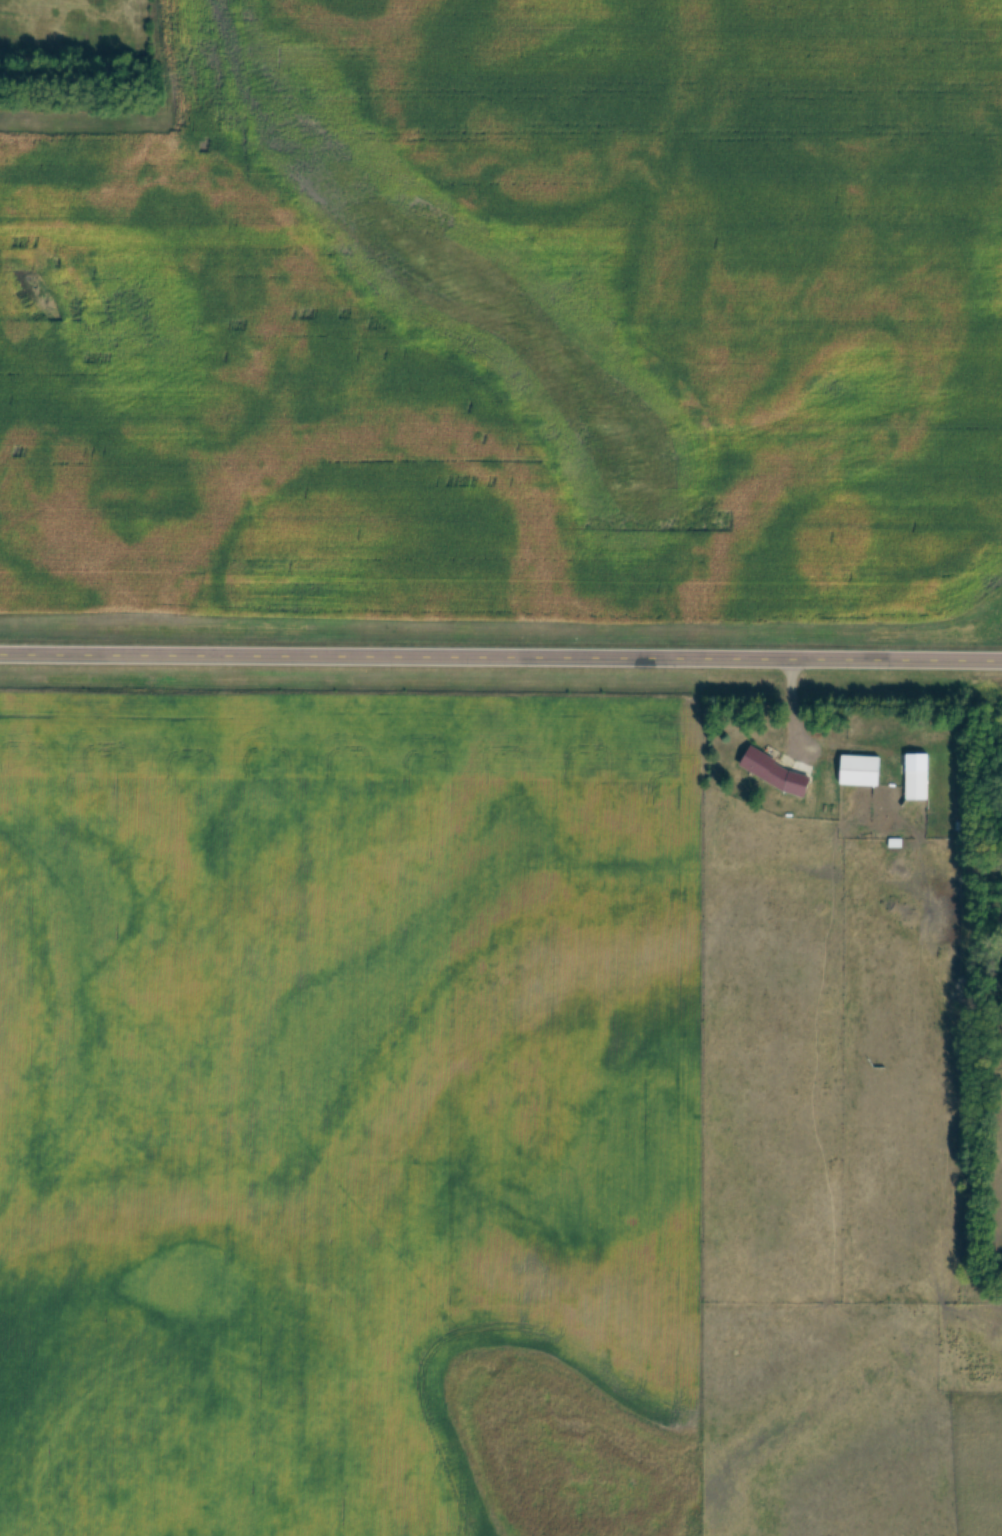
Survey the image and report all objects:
road: (501, 657)
building: (861, 770)
building: (777, 772)
building: (917, 785)

